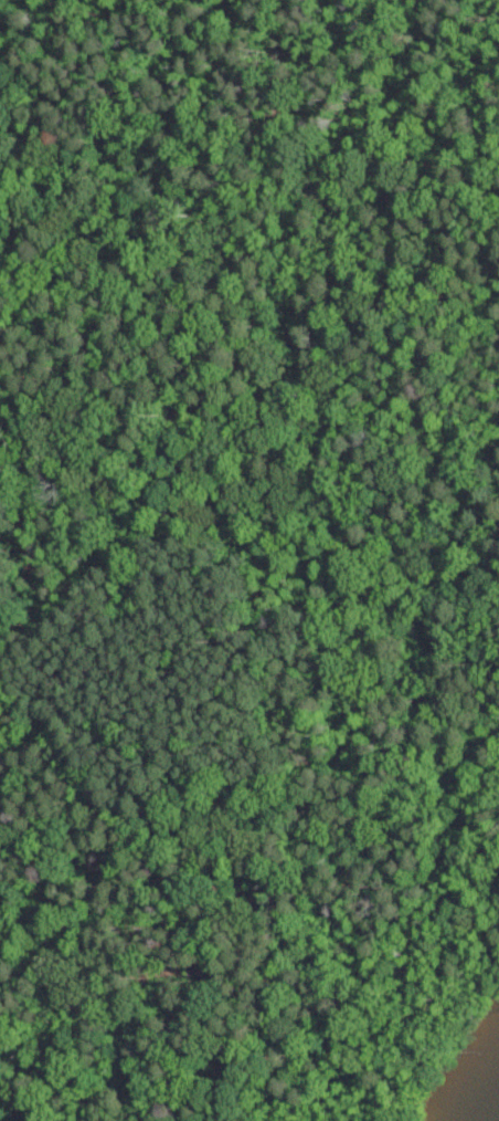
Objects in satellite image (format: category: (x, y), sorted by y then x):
road: (251, 140)
road: (330, 889)

